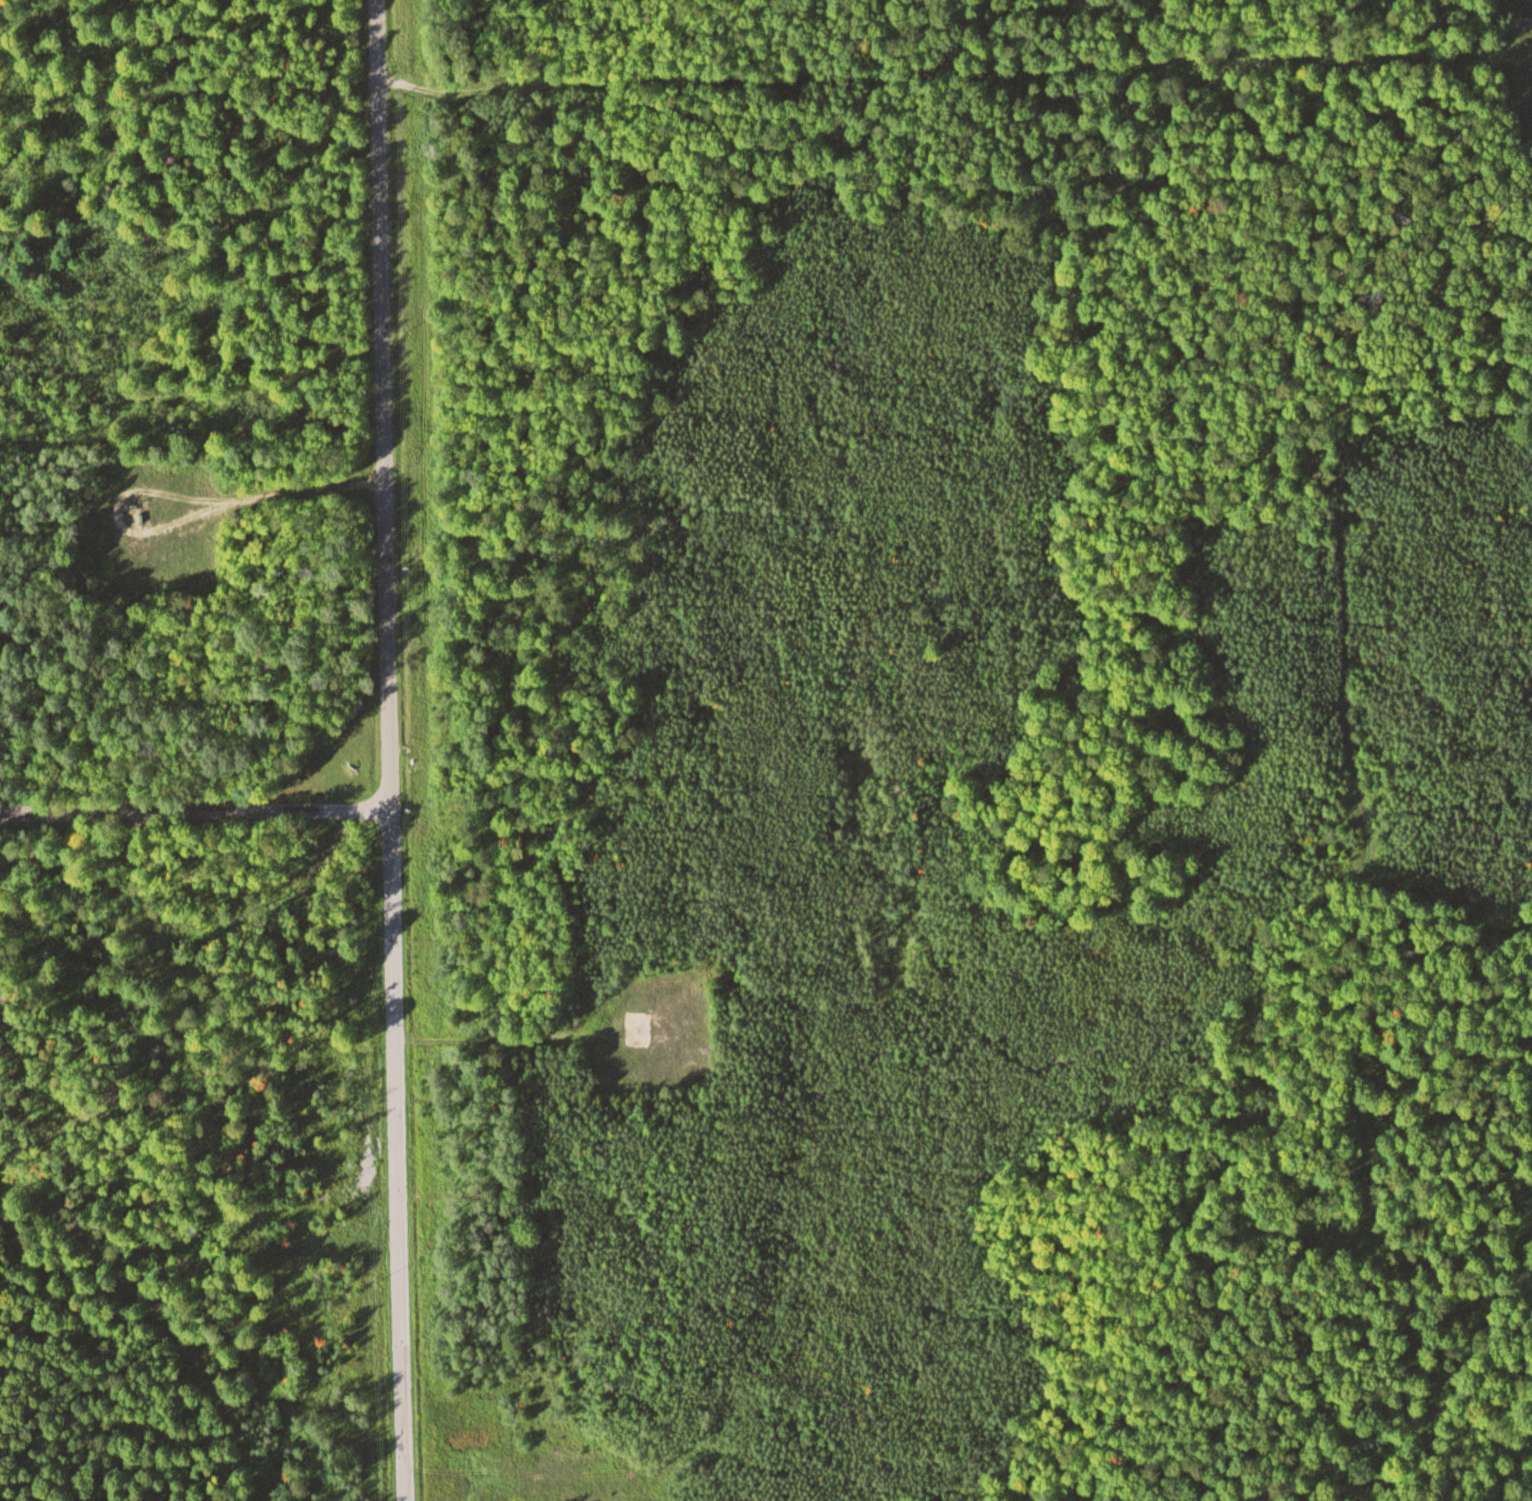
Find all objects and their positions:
road: (953, 74)
petroleum well: (127, 495)
road: (392, 750)
road: (196, 813)
road: (135, 1332)

